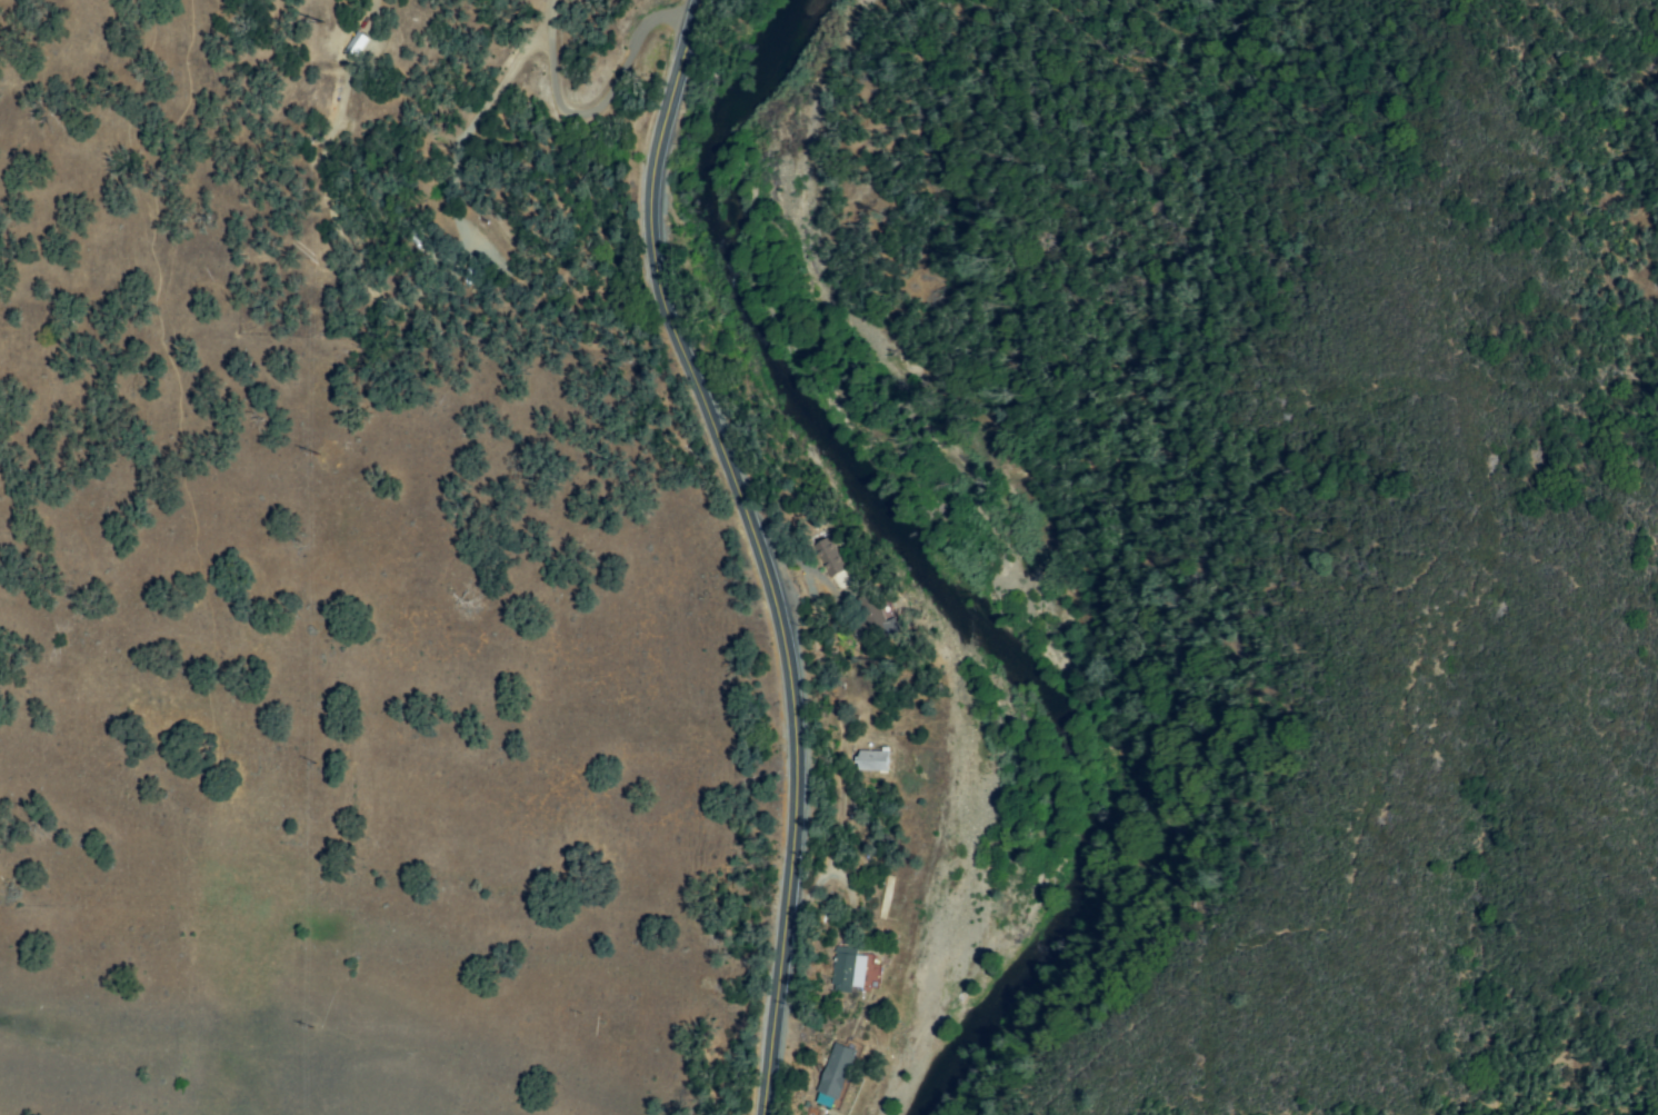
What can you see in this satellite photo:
building: (353, 43)
road: (605, 106)
road: (755, 547)
building: (829, 556)
river: (926, 575)
building: (873, 760)
building: (847, 969)
building: (833, 1076)

